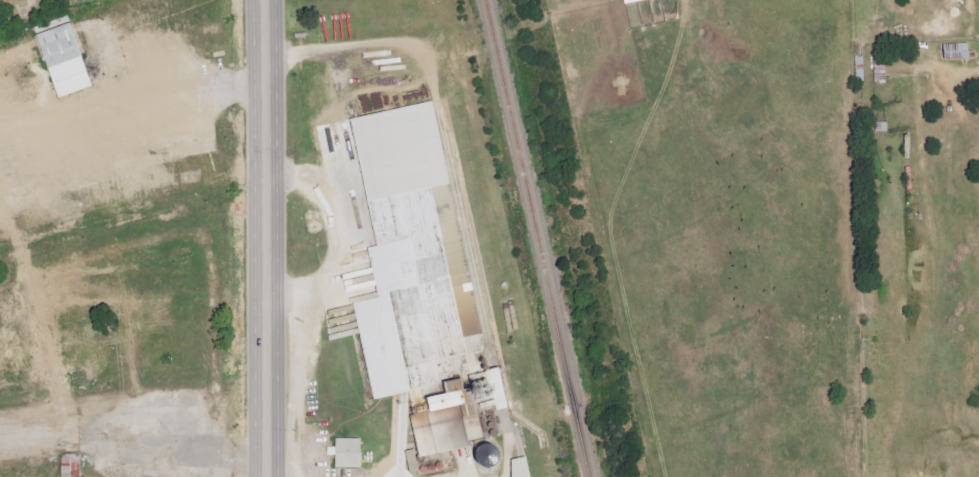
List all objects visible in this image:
building: (637, 1)
road: (338, 46)
building: (66, 61)
road: (159, 238)
road: (247, 238)
road: (338, 238)
railway: (536, 238)
road: (133, 317)
building: (430, 322)
road: (297, 388)
road: (85, 418)
road: (125, 446)
building: (344, 458)
building: (417, 460)
building: (72, 464)
building: (526, 468)
parking lot: (204, 474)

